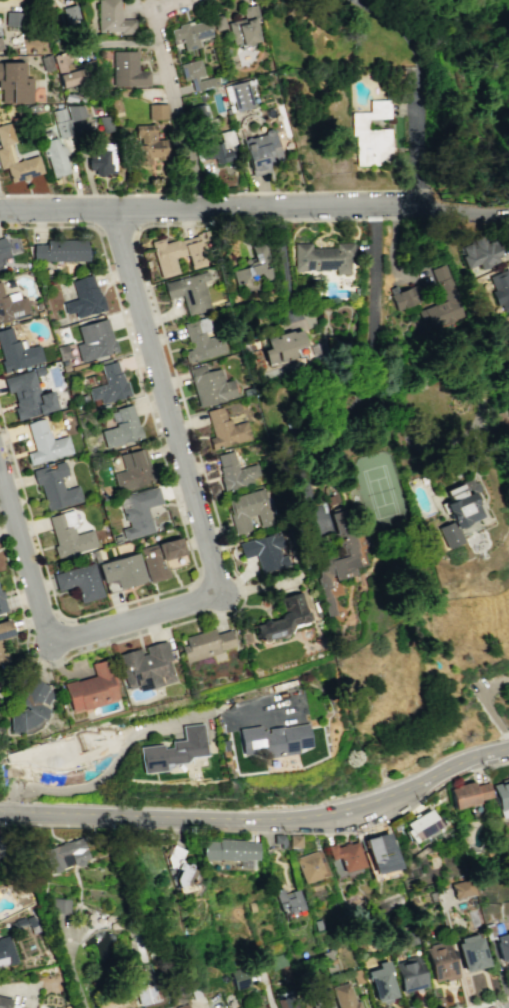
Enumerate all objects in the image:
road: (13, 2)
building: (44, 2)
building: (13, 18)
building: (112, 18)
building: (244, 27)
building: (191, 33)
road: (157, 40)
building: (0, 45)
park: (465, 65)
building: (65, 70)
building: (127, 70)
building: (196, 75)
building: (14, 83)
road: (416, 85)
building: (238, 95)
building: (157, 111)
building: (199, 113)
building: (77, 118)
road: (182, 122)
building: (370, 135)
building: (148, 144)
building: (5, 149)
building: (213, 151)
building: (261, 151)
building: (55, 157)
building: (101, 159)
road: (504, 201)
road: (456, 202)
road: (206, 204)
road: (1, 205)
road: (504, 211)
building: (3, 249)
building: (60, 250)
building: (178, 253)
building: (479, 253)
building: (323, 257)
road: (283, 260)
building: (0, 265)
building: (254, 265)
building: (500, 288)
building: (189, 292)
building: (83, 297)
building: (404, 297)
building: (442, 300)
building: (12, 306)
building: (94, 340)
building: (201, 340)
building: (281, 346)
building: (16, 352)
road: (507, 352)
building: (109, 384)
building: (210, 386)
road: (368, 388)
building: (27, 395)
road: (164, 400)
building: (121, 427)
building: (224, 429)
building: (45, 443)
building: (132, 470)
building: (234, 471)
building: (54, 486)
park: (378, 489)
building: (249, 509)
building: (458, 510)
building: (138, 512)
building: (265, 551)
road: (25, 556)
building: (159, 557)
building: (337, 558)
building: (121, 570)
building: (79, 581)
building: (1, 605)
road: (135, 616)
building: (283, 617)
building: (206, 644)
building: (2, 649)
building: (146, 666)
building: (90, 688)
road: (487, 703)
building: (30, 705)
building: (276, 739)
building: (175, 751)
road: (111, 772)
building: (508, 776)
building: (469, 795)
building: (503, 798)
road: (260, 819)
building: (421, 825)
building: (277, 839)
building: (294, 842)
building: (229, 850)
building: (378, 853)
building: (62, 855)
building: (346, 856)
building: (177, 867)
building: (311, 867)
building: (462, 890)
building: (289, 901)
building: (62, 905)
building: (477, 921)
building: (503, 948)
building: (6, 951)
building: (472, 954)
building: (277, 961)
building: (440, 961)
road: (73, 971)
building: (411, 976)
building: (240, 978)
building: (381, 981)
building: (146, 993)
building: (344, 997)
building: (320, 998)
road: (489, 1002)
building: (4, 1003)
road: (498, 1004)
building: (289, 1005)
building: (183, 1006)
road: (123, 1007)
building: (229, 1007)

